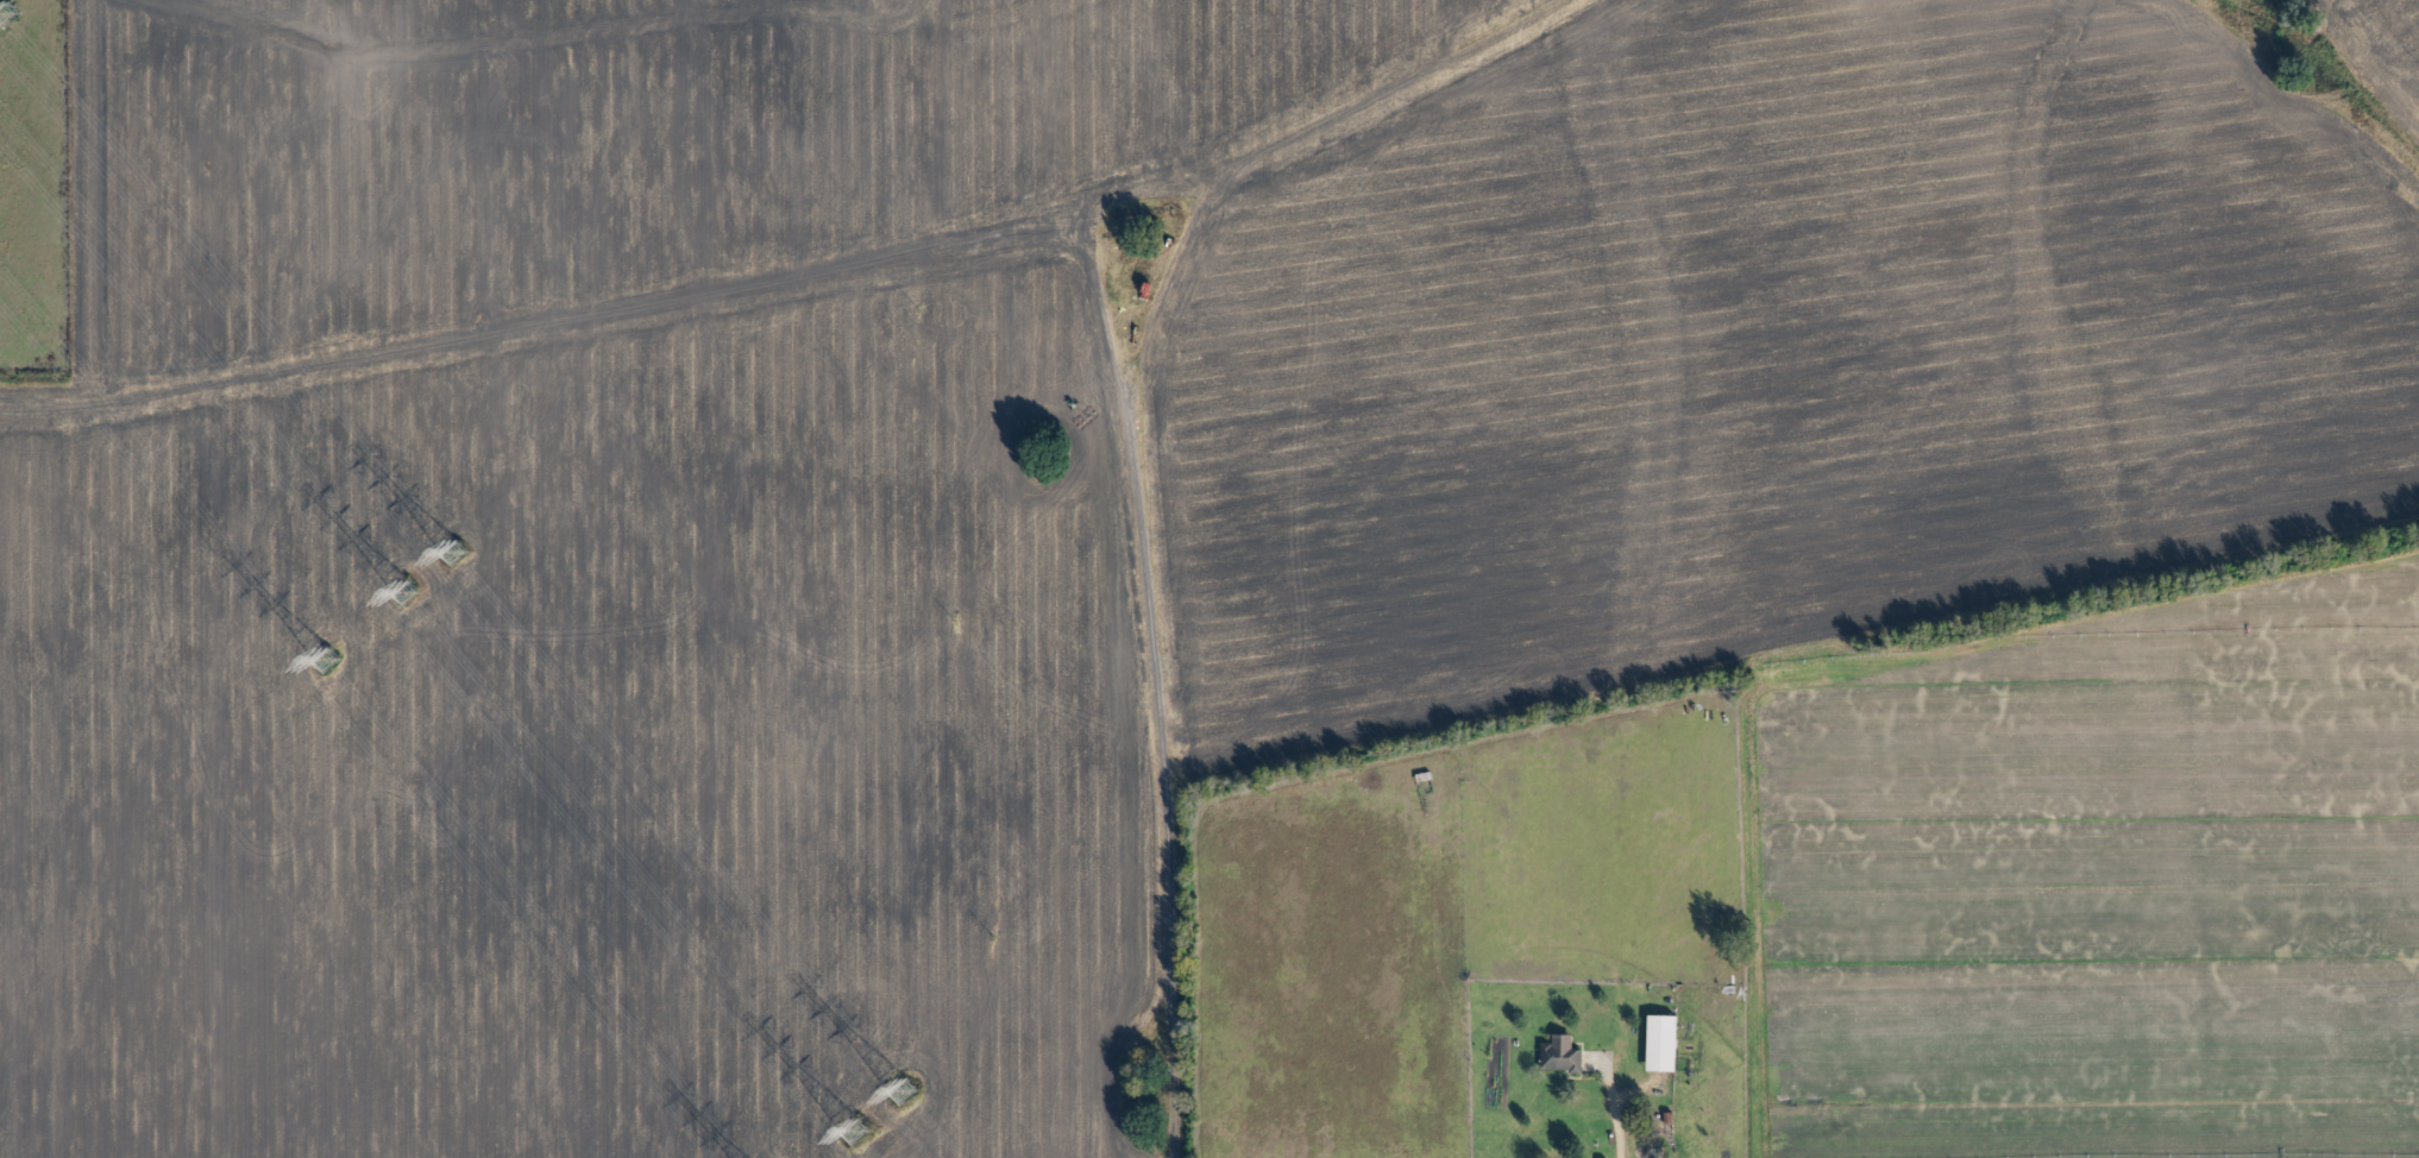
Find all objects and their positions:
power tower: (11, 11)
power tower: (458, 549)
power tower: (410, 596)
power tower: (332, 660)
building: (1665, 1044)
building: (1565, 1052)
power tower: (905, 1093)
power tower: (857, 1134)

